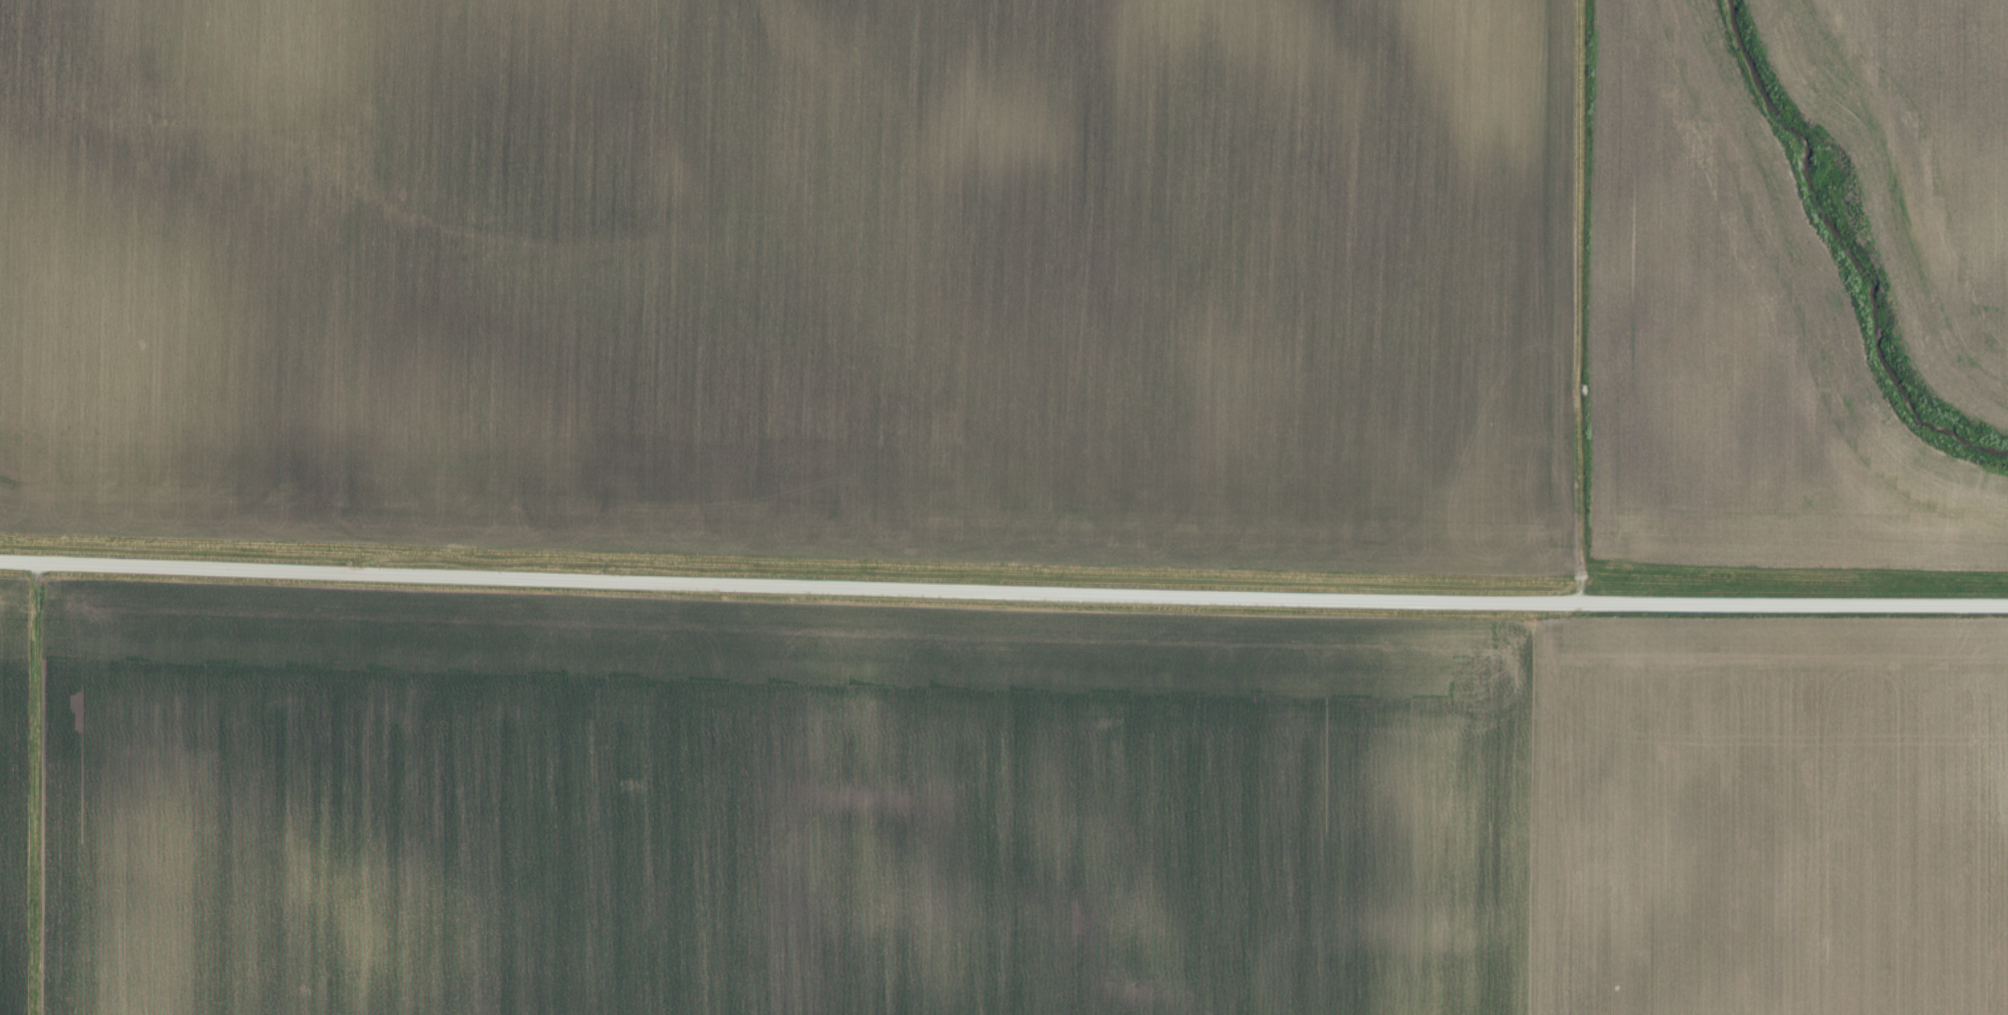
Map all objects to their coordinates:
road: (1003, 590)

